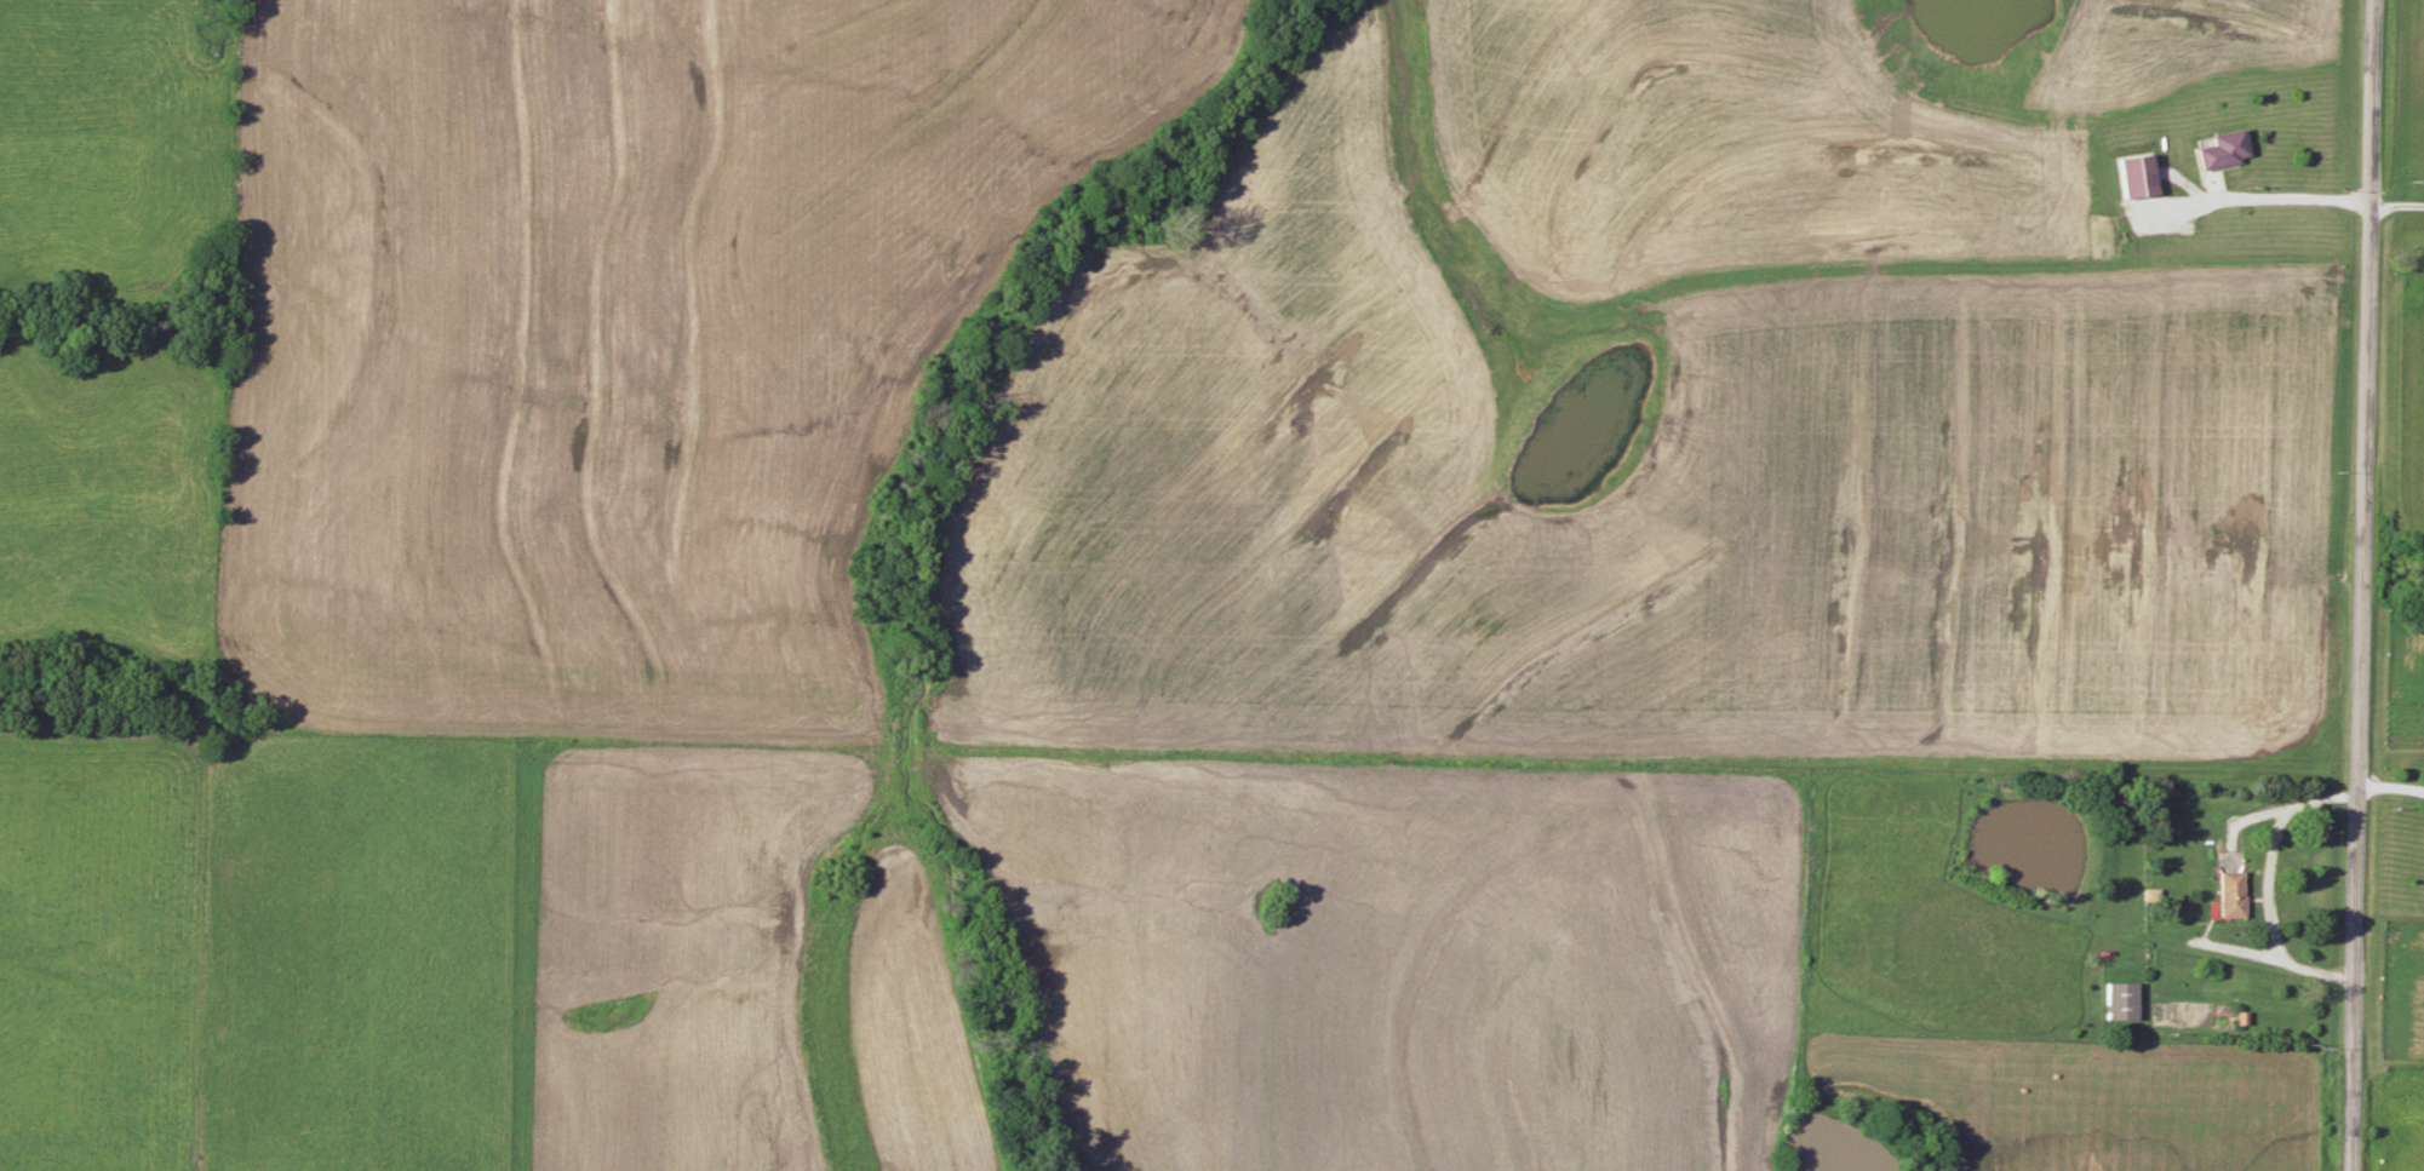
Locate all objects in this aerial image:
building: (2222, 150)
building: (2136, 176)
road: (2281, 202)
road: (2397, 205)
road: (2362, 585)
road: (1591, 764)
road: (2390, 785)
road: (2271, 888)
building: (2231, 895)
building: (2120, 1001)

